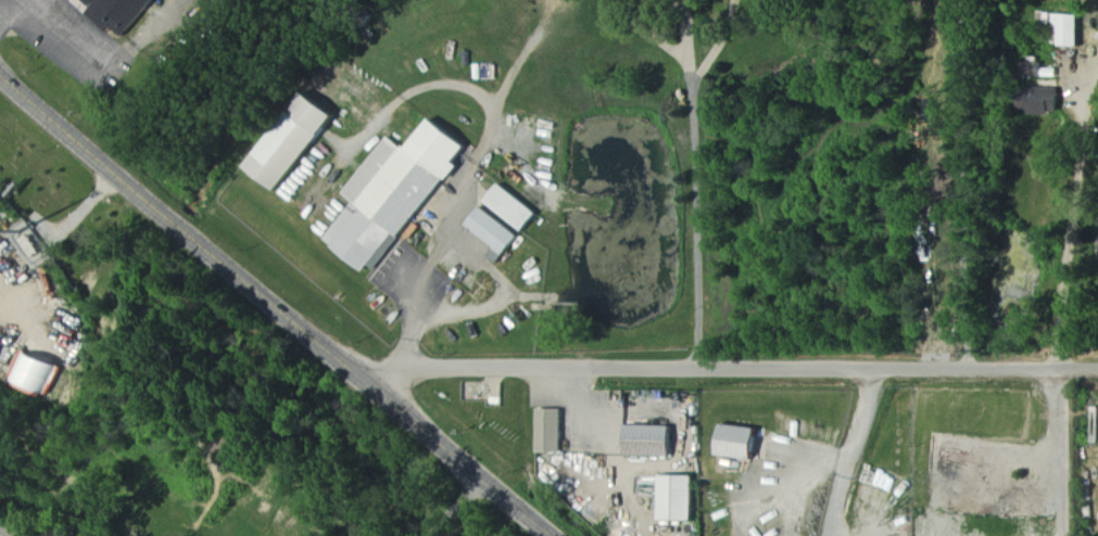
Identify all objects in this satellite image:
building: (119, 10)
road: (50, 21)
building: (103, 21)
building: (1068, 30)
building: (1044, 101)
building: (288, 139)
road: (962, 182)
road: (695, 183)
building: (391, 190)
building: (507, 205)
road: (1072, 208)
building: (490, 230)
road: (420, 286)
road: (505, 299)
road: (279, 304)
road: (735, 367)
building: (31, 373)
road: (853, 432)
building: (552, 433)
building: (652, 443)
building: (742, 444)
road: (1062, 449)
road: (843, 495)
building: (679, 500)
road: (454, 502)
railway: (2, 534)

